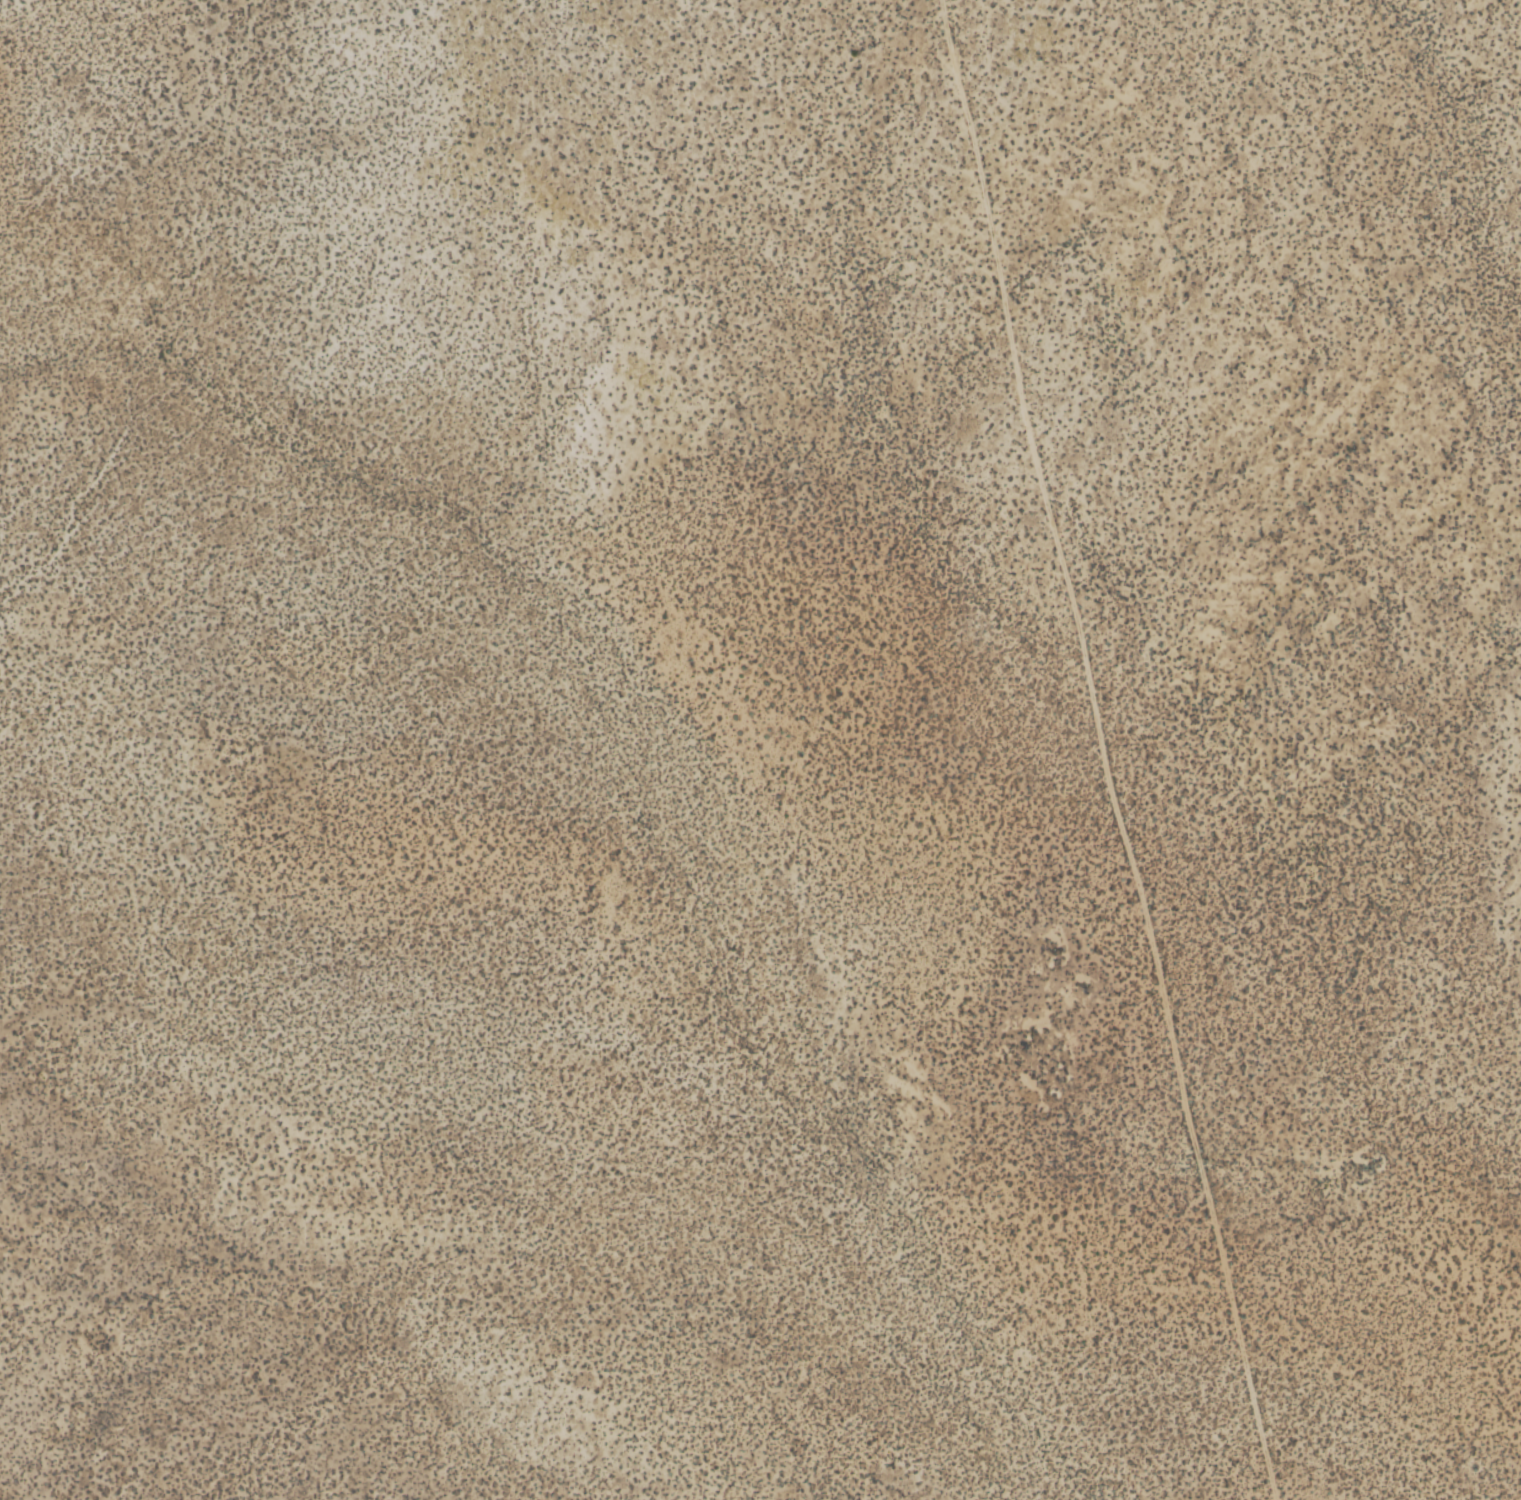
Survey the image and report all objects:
road: (1121, 750)

